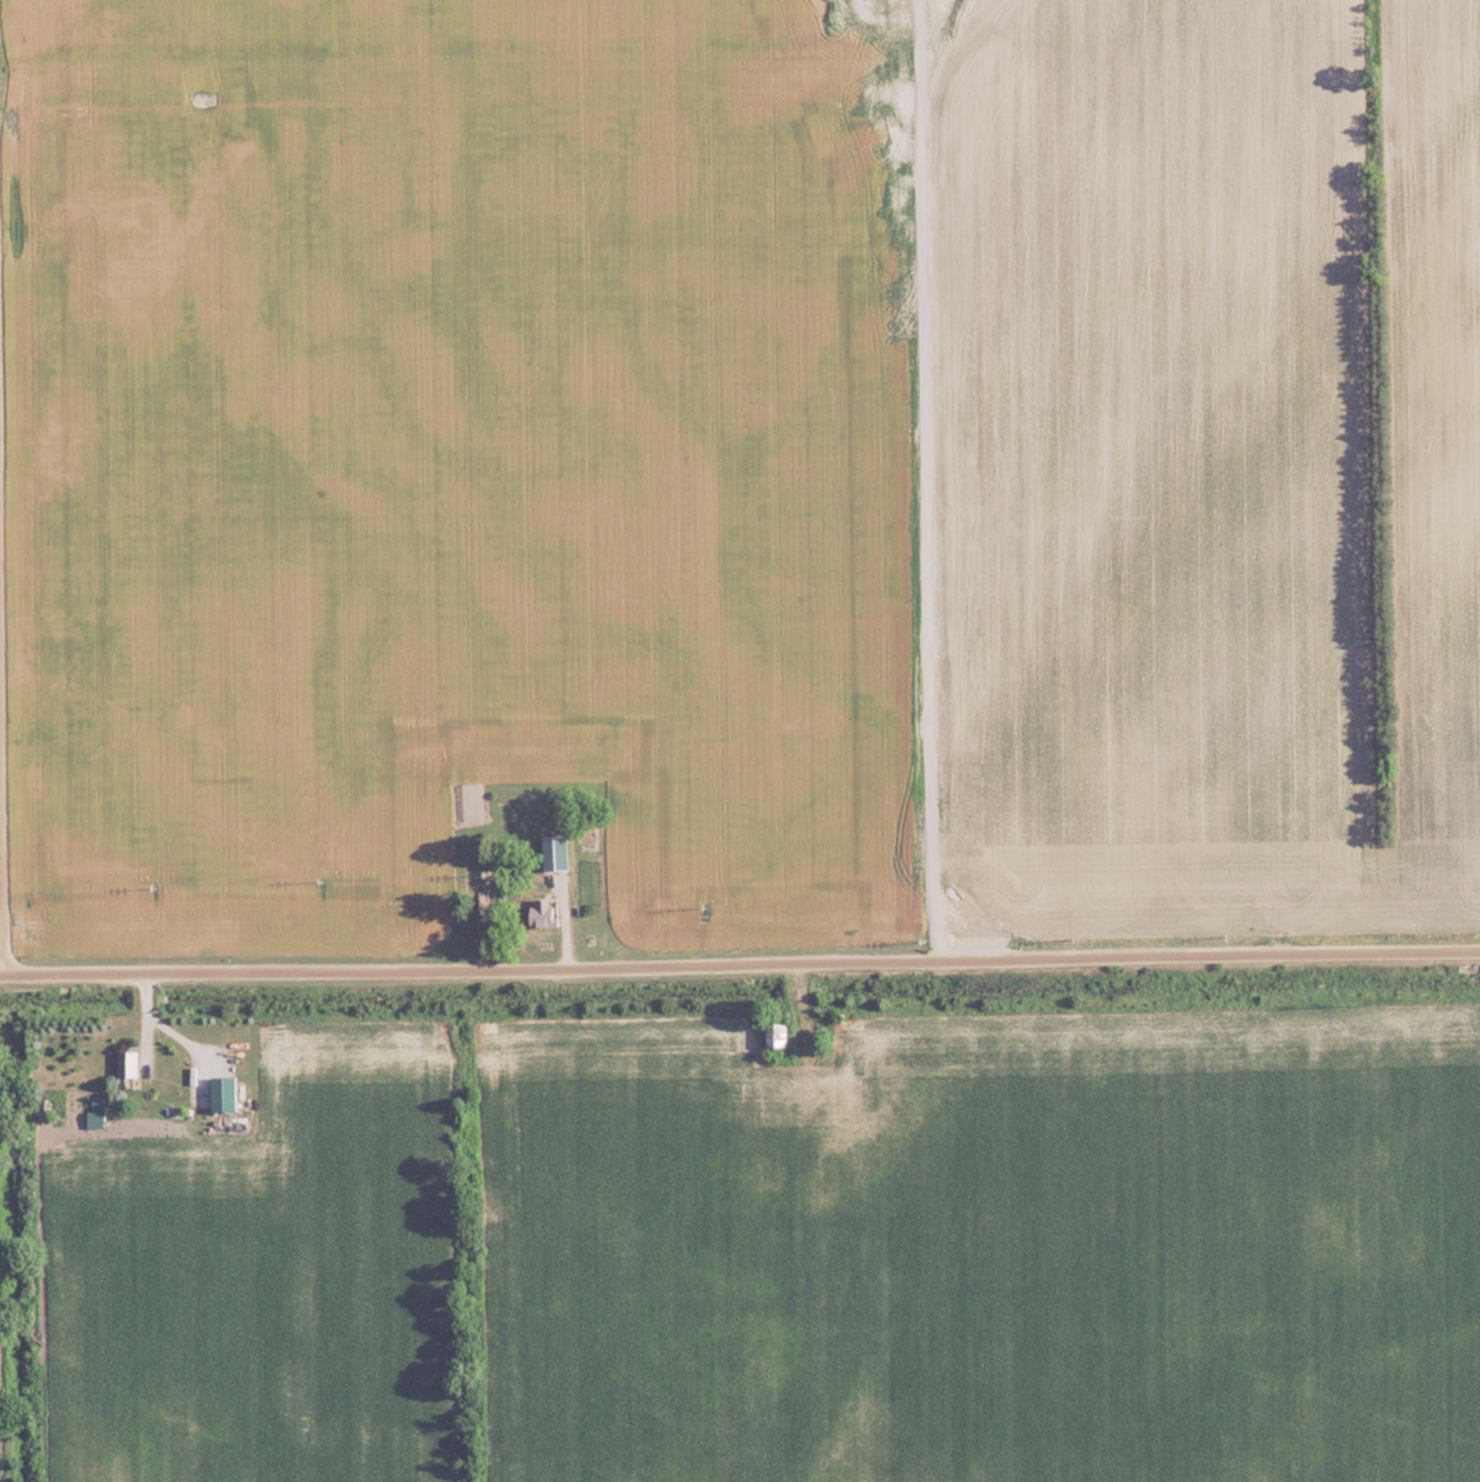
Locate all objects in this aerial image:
road: (2, 802)
building: (554, 853)
building: (542, 913)
road: (740, 969)
road: (173, 1031)
building: (777, 1037)
building: (128, 1064)
building: (225, 1094)

